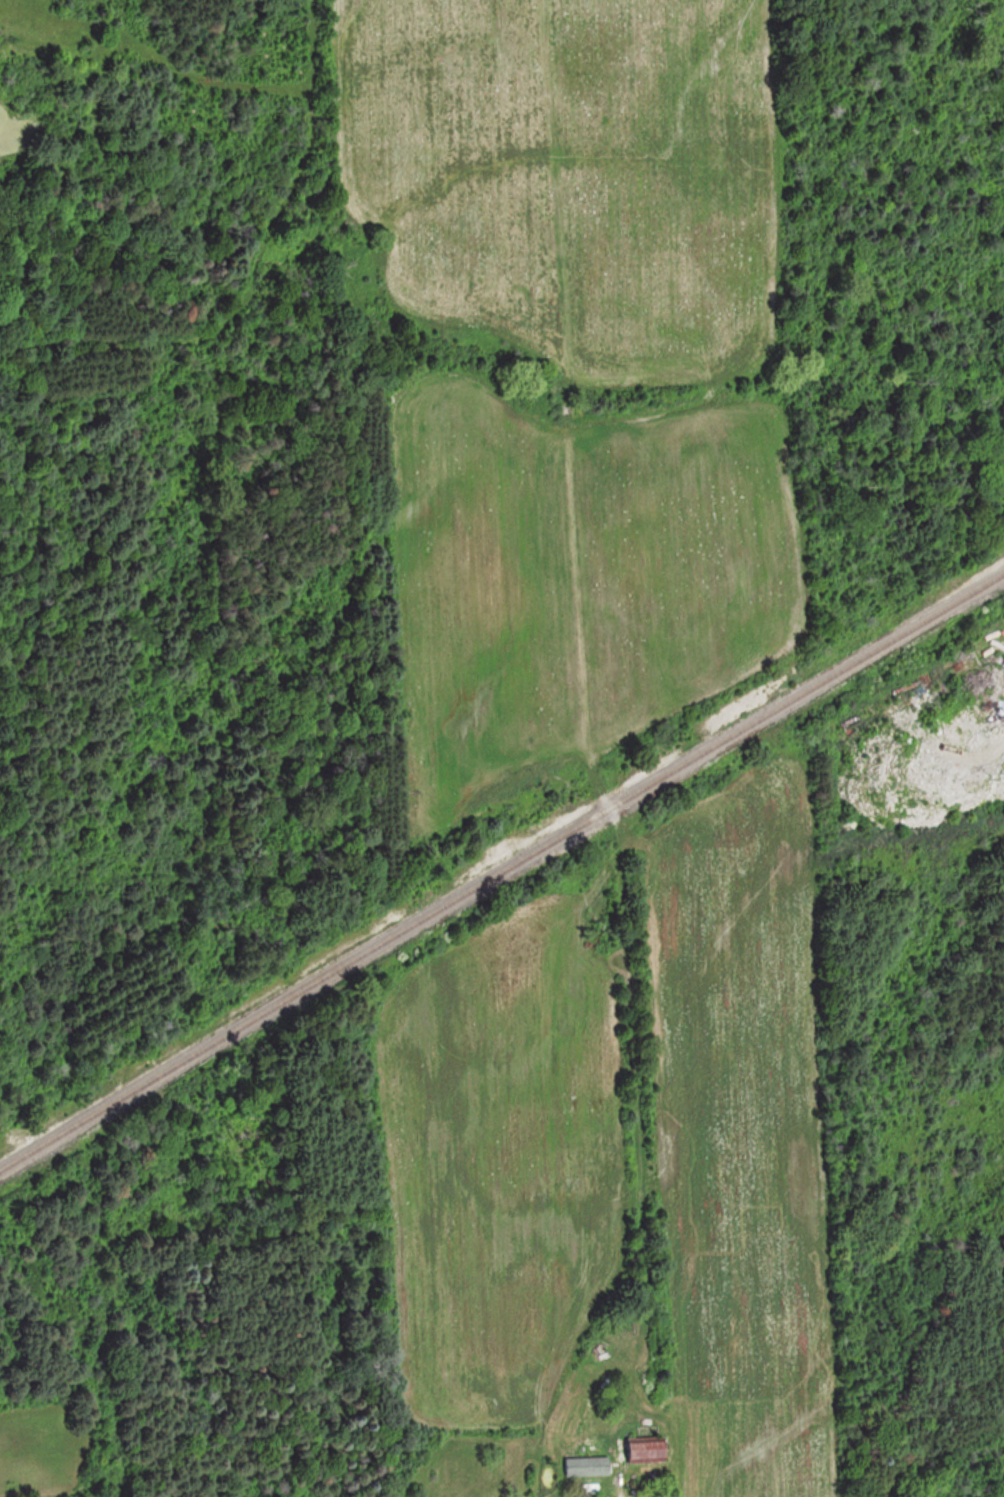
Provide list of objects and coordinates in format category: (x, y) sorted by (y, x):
railway: (502, 876)
building: (650, 1449)
building: (587, 1467)

